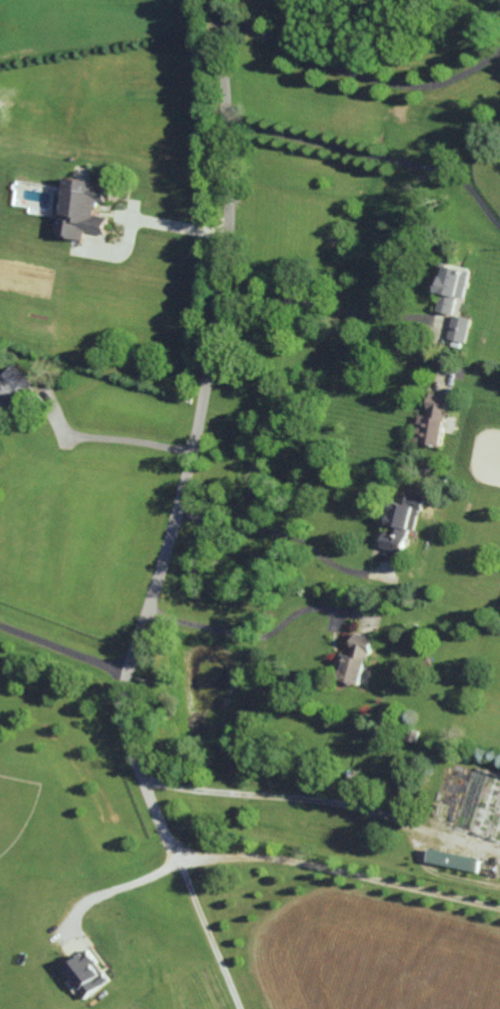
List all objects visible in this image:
road: (359, 75)
road: (373, 154)
building: (83, 209)
road: (179, 229)
building: (452, 290)
road: (324, 303)
building: (458, 329)
road: (335, 334)
road: (216, 351)
building: (12, 387)
building: (432, 421)
road: (112, 437)
road: (283, 534)
road: (244, 638)
road: (65, 645)
building: (356, 658)
road: (287, 797)
road: (173, 852)
building: (452, 860)
road: (338, 864)
road: (113, 890)
building: (86, 976)

